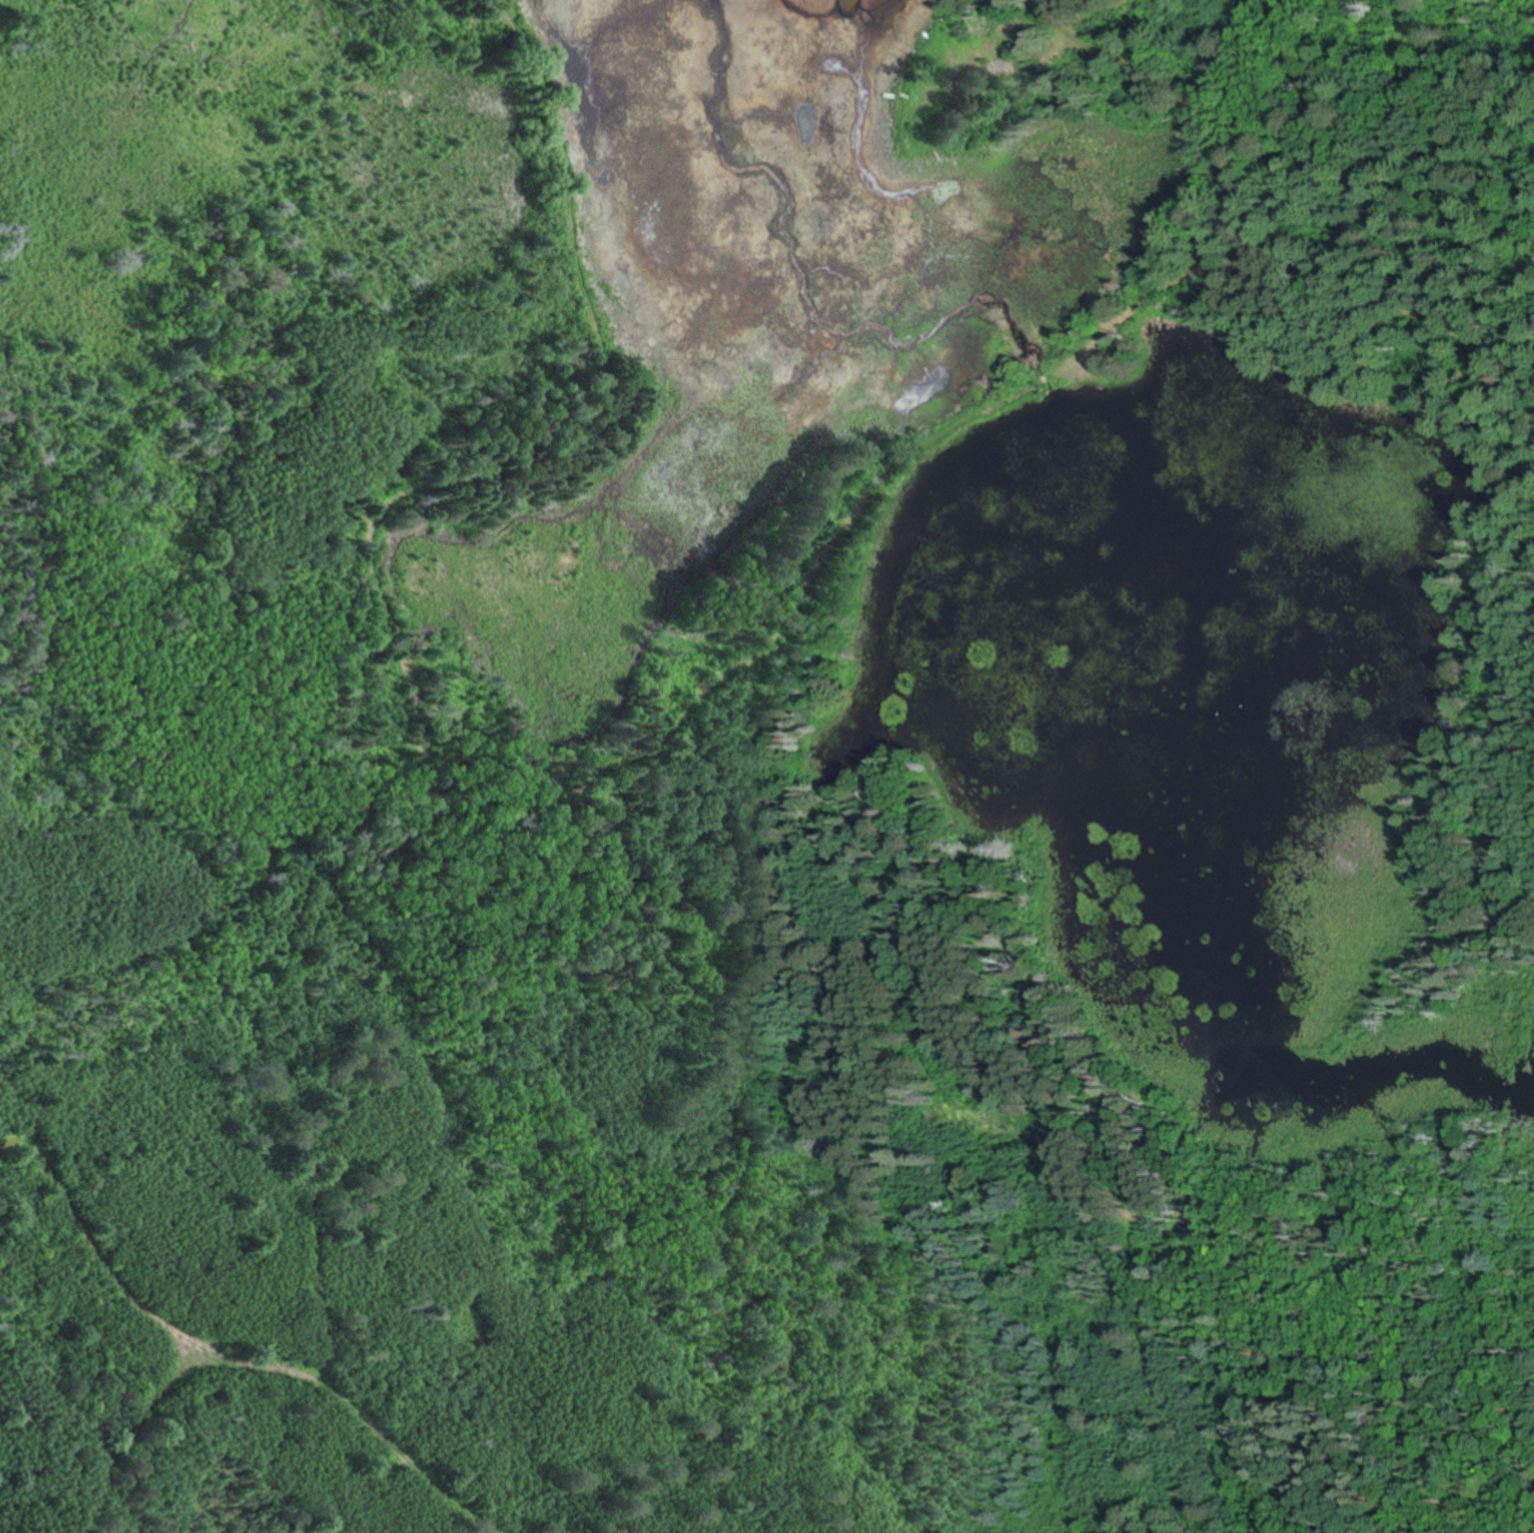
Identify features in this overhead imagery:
road: (1255, 224)

